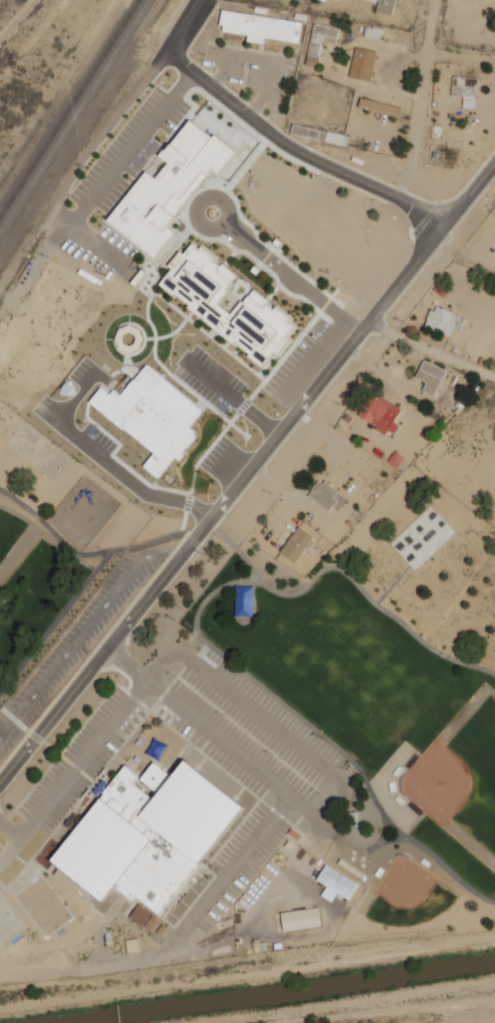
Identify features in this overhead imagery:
building: (386, 7)
building: (261, 26)
road: (173, 37)
building: (319, 41)
road: (460, 55)
building: (362, 64)
building: (464, 85)
road: (421, 102)
railway: (68, 106)
building: (379, 107)
railway: (74, 116)
road: (129, 152)
road: (310, 160)
building: (166, 190)
road: (200, 200)
road: (26, 245)
road: (290, 279)
building: (227, 307)
building: (443, 320)
road: (431, 352)
road: (309, 361)
building: (429, 377)
building: (379, 413)
building: (152, 418)
park: (39, 453)
road: (249, 471)
building: (325, 495)
building: (14, 535)
park: (14, 535)
building: (297, 544)
road: (163, 551)
road: (71, 650)
road: (81, 769)
road: (335, 775)
park: (461, 776)
building: (145, 831)
road: (13, 853)
building: (336, 884)
park: (406, 892)
park: (45, 907)
building: (146, 918)
building: (301, 919)
park: (9, 922)

